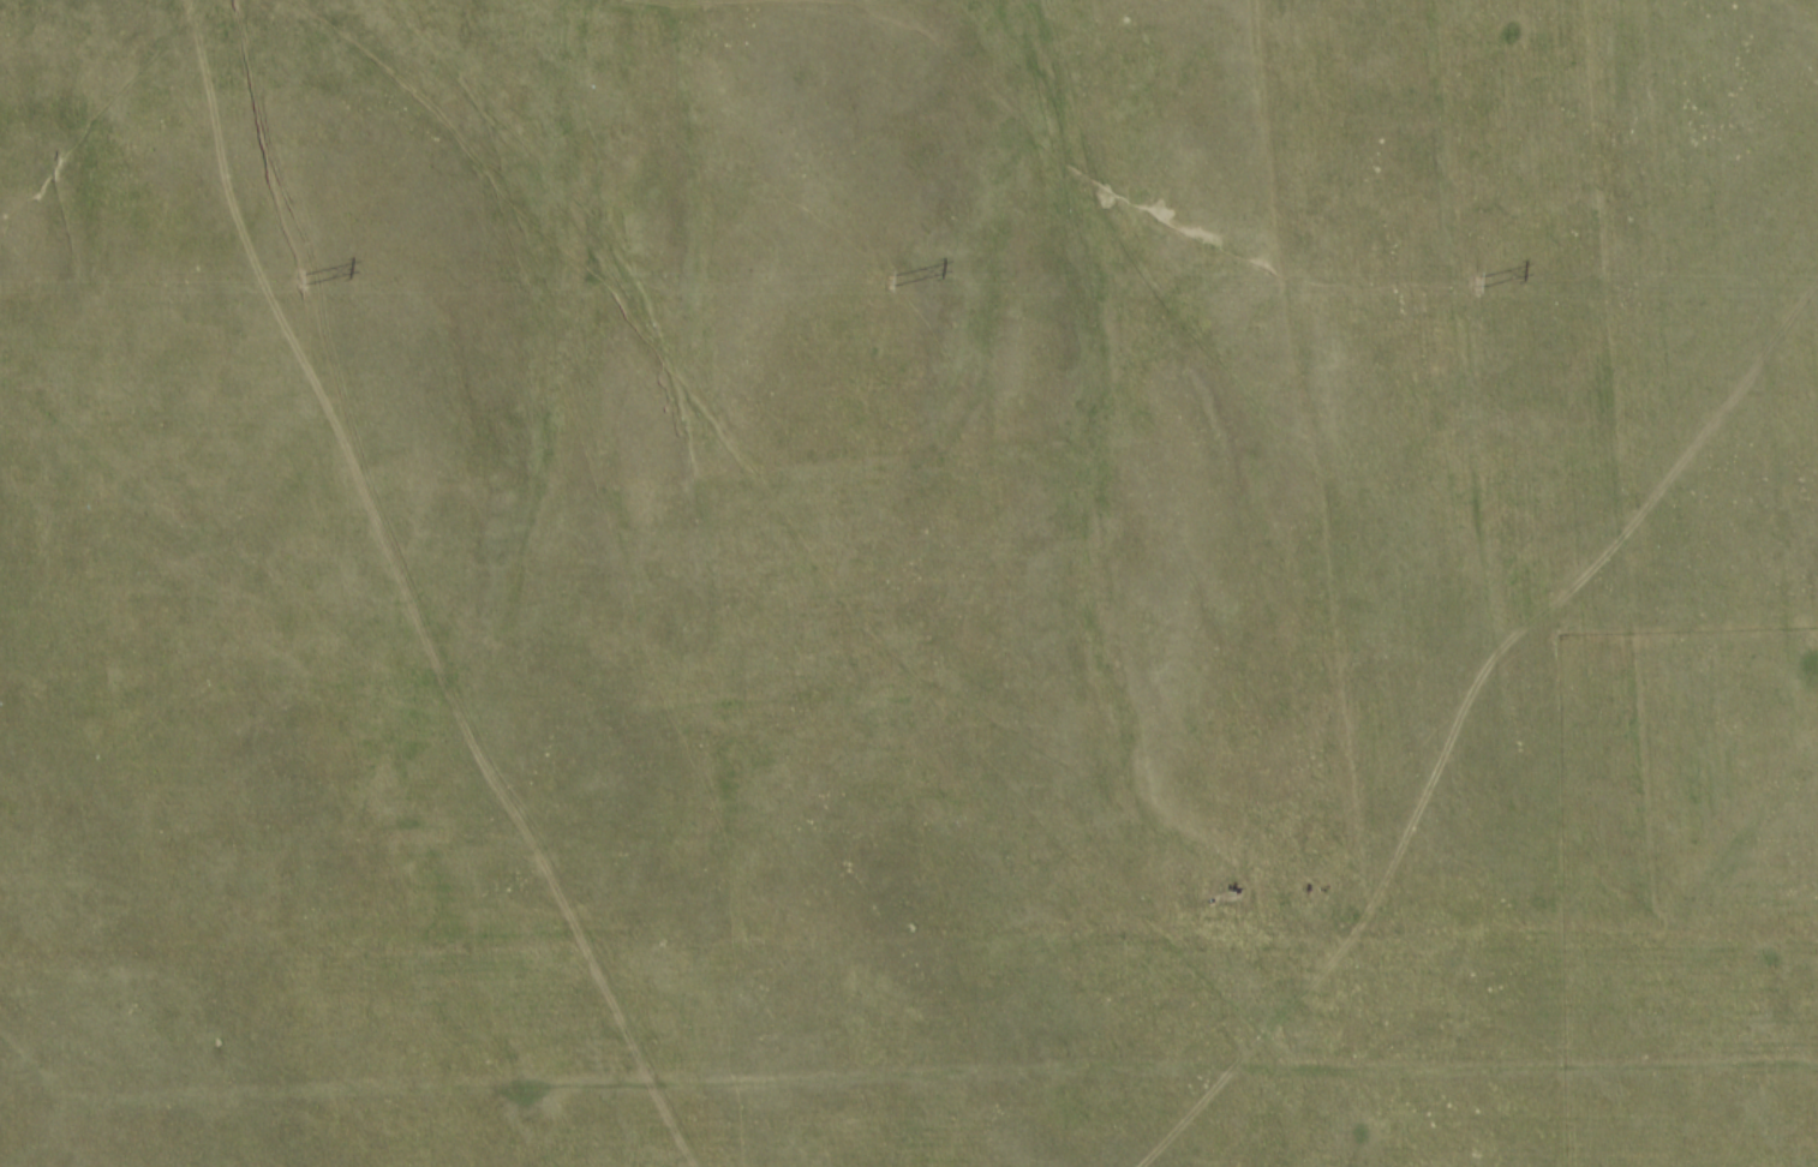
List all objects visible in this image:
power tower: (303, 281)
power tower: (892, 282)
power tower: (1479, 283)

